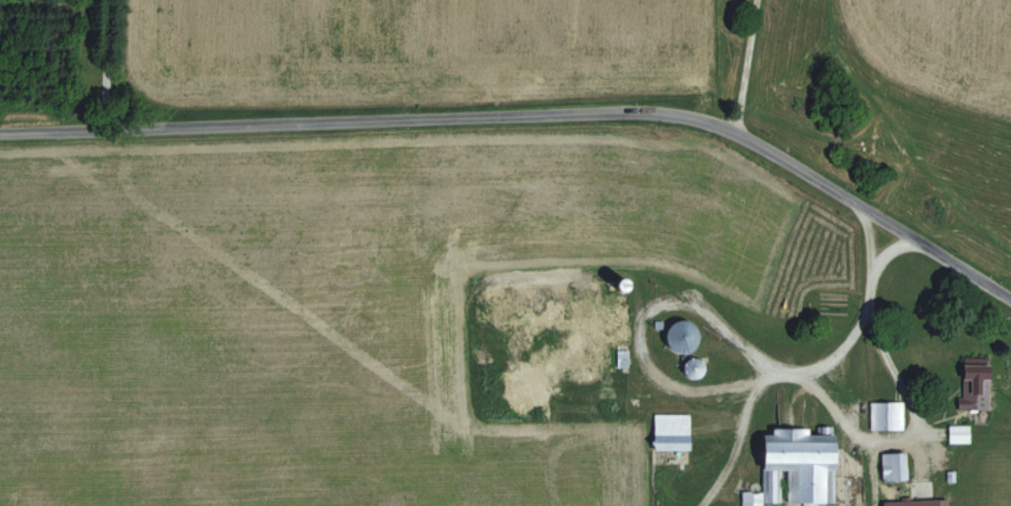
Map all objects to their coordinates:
road: (108, 64)
road: (750, 66)
road: (529, 118)
road: (895, 253)
road: (670, 286)
building: (558, 305)
building: (620, 333)
building: (684, 342)
building: (592, 359)
building: (695, 366)
building: (978, 385)
road: (910, 394)
building: (889, 415)
building: (675, 431)
building: (961, 433)
road: (734, 448)
building: (800, 468)
building: (897, 473)

